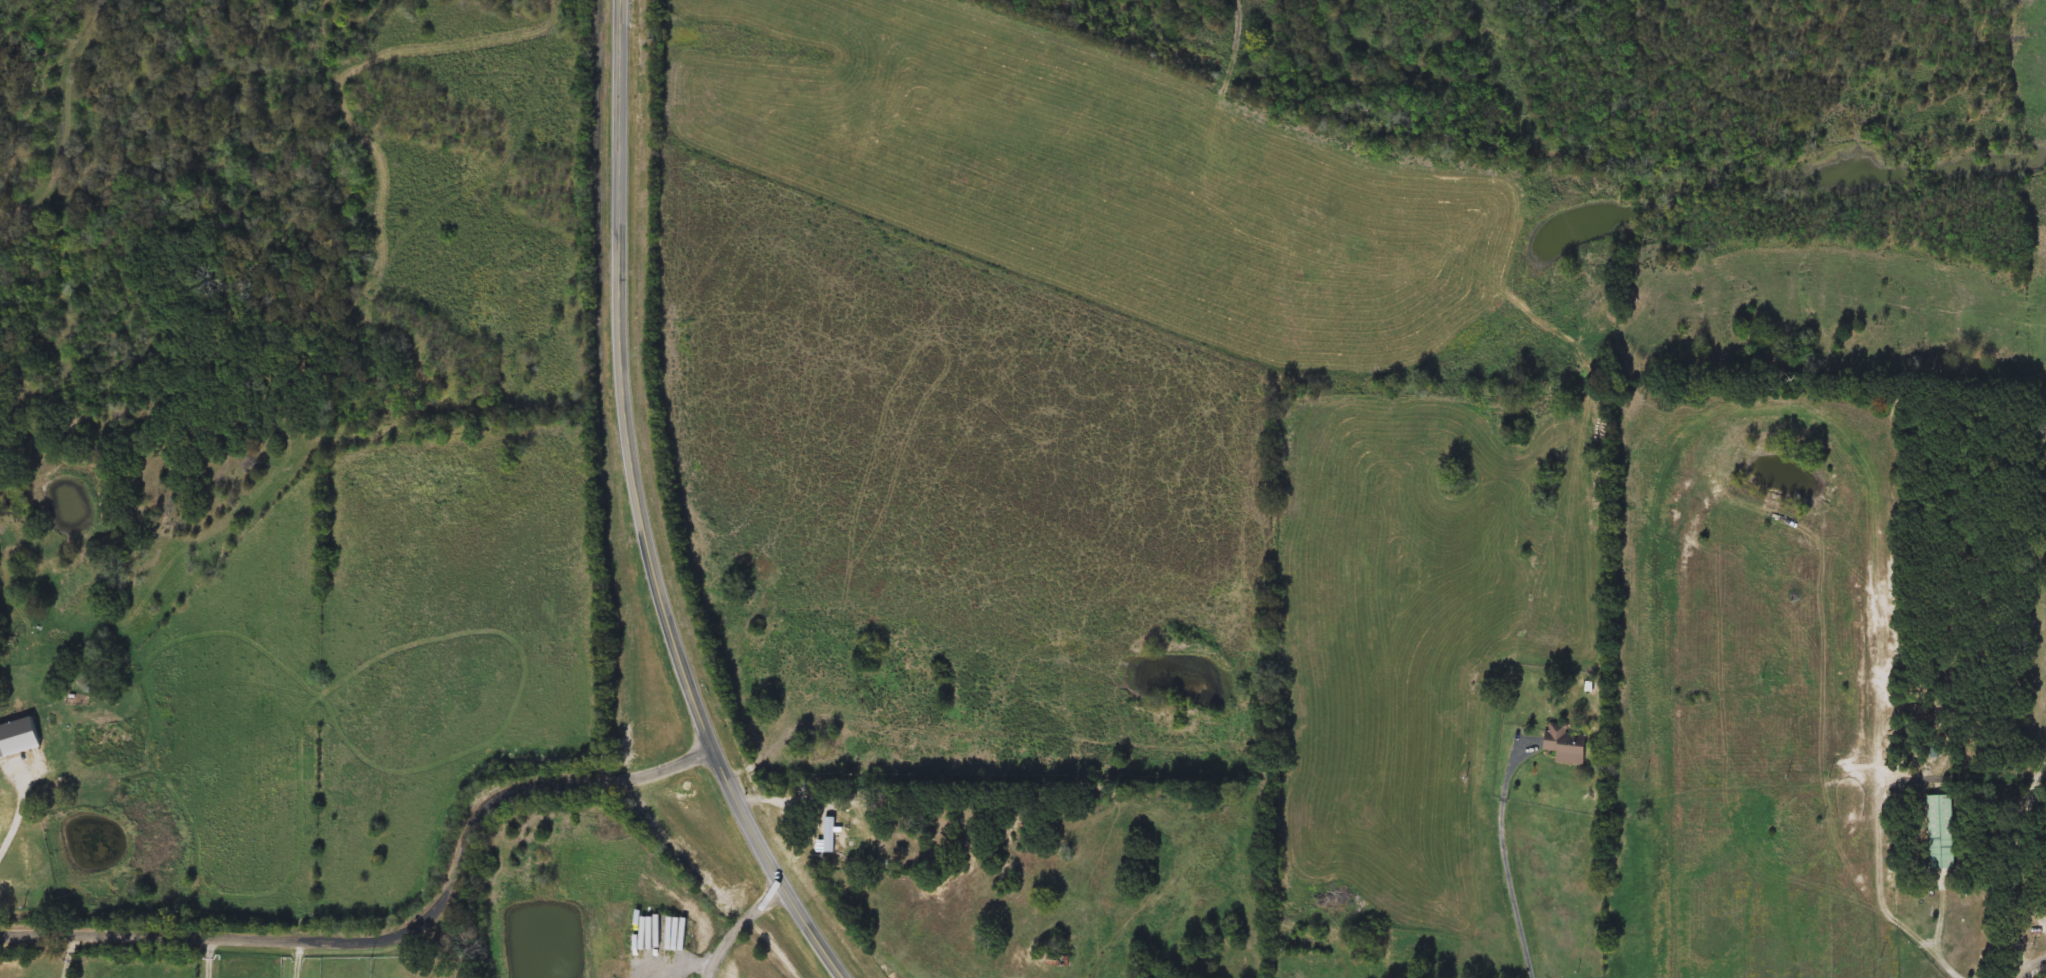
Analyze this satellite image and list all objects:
road: (648, 513)
building: (1563, 744)
building: (32, 745)
road: (20, 819)
building: (1941, 830)
building: (840, 837)
road: (1504, 860)
building: (31, 861)
road: (2016, 867)
road: (747, 921)
road: (411, 926)
road: (1941, 938)
road: (67, 955)
road: (210, 956)
road: (298, 956)
road: (2031, 967)

